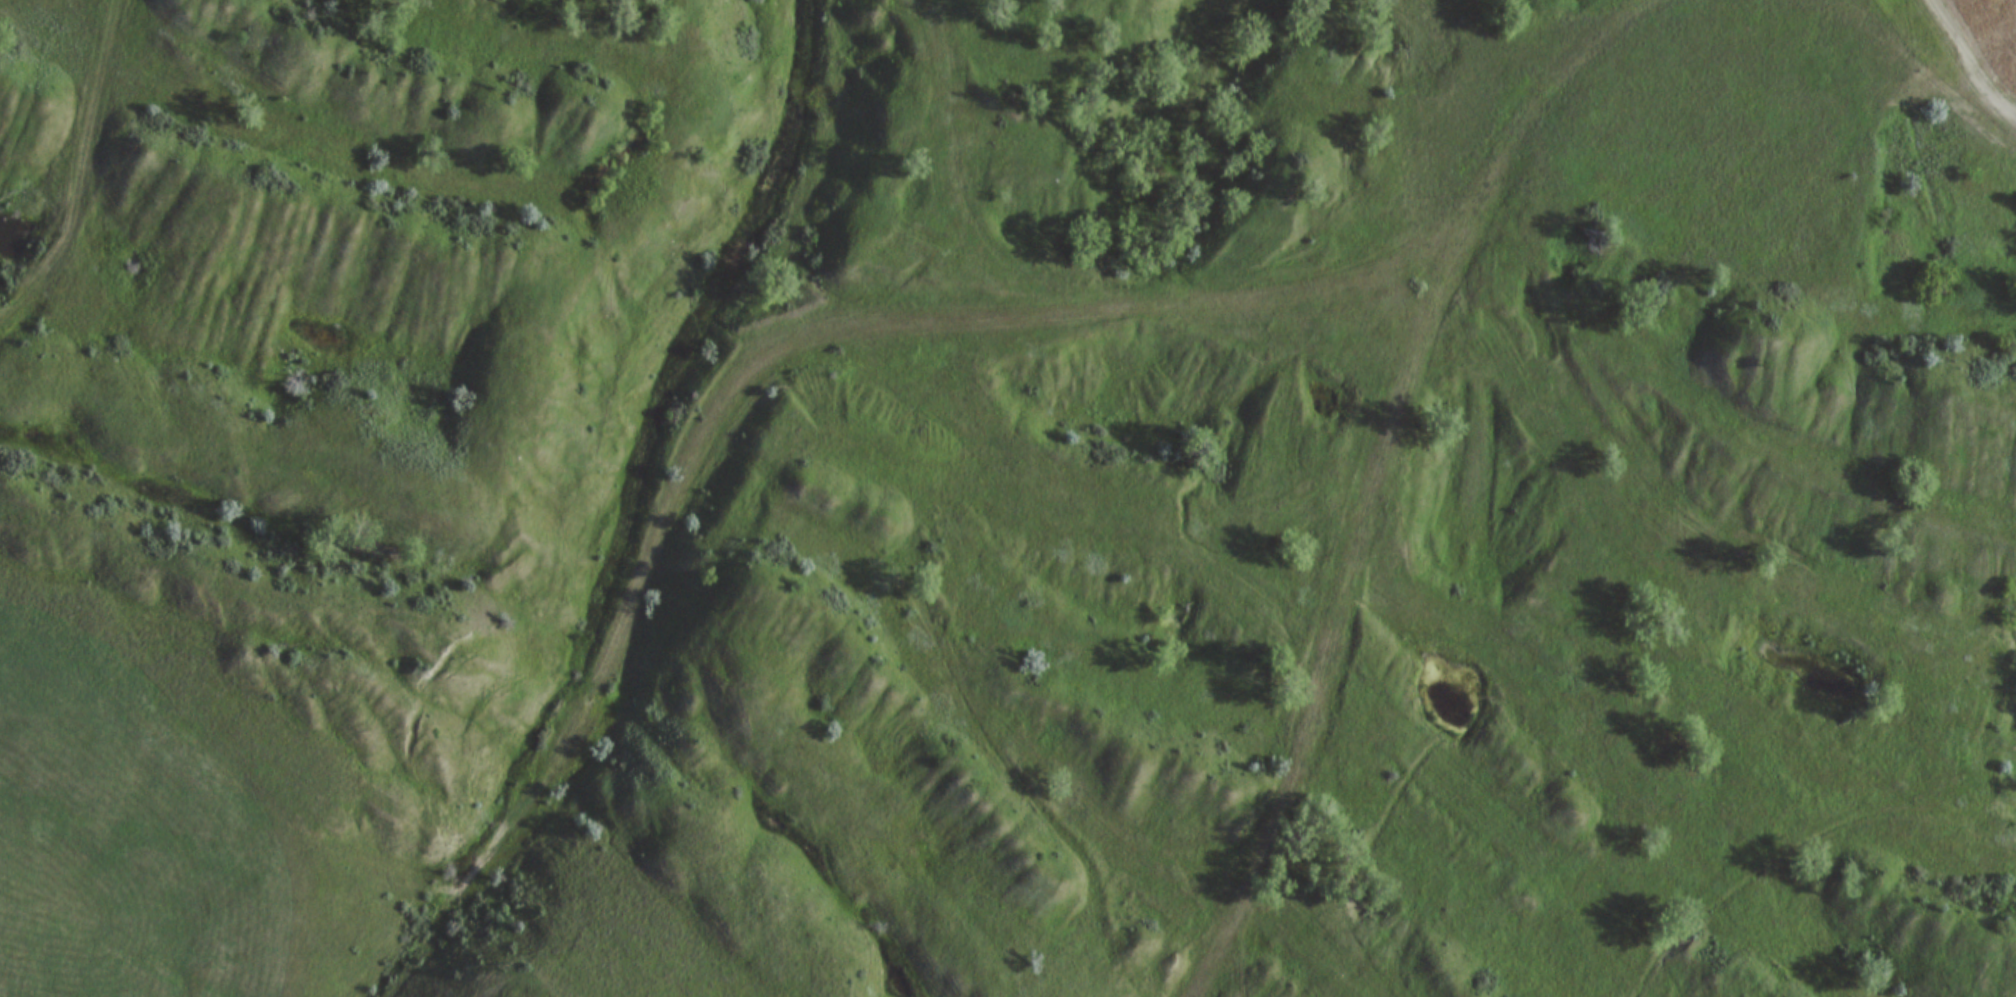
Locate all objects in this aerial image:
road: (1968, 60)
road: (889, 326)
quarry: (1042, 481)
road: (1342, 592)

